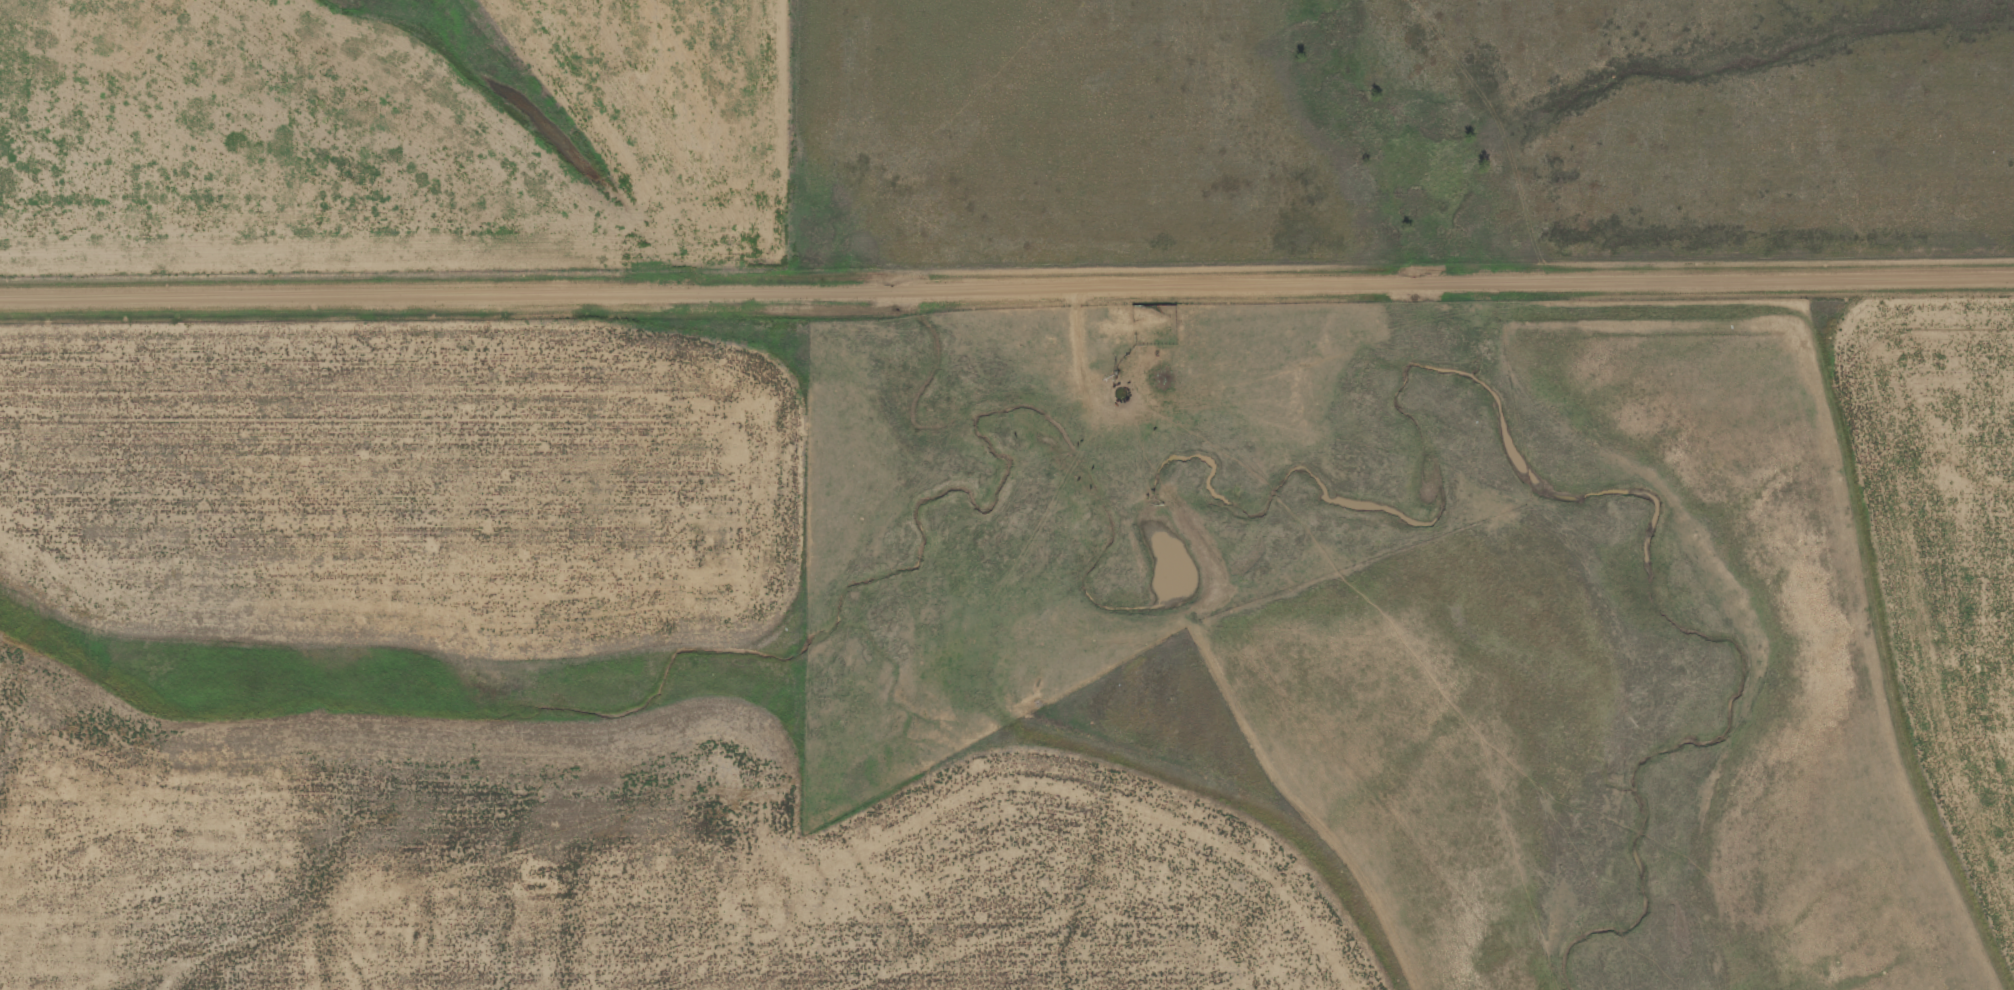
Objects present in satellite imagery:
road: (1007, 285)

